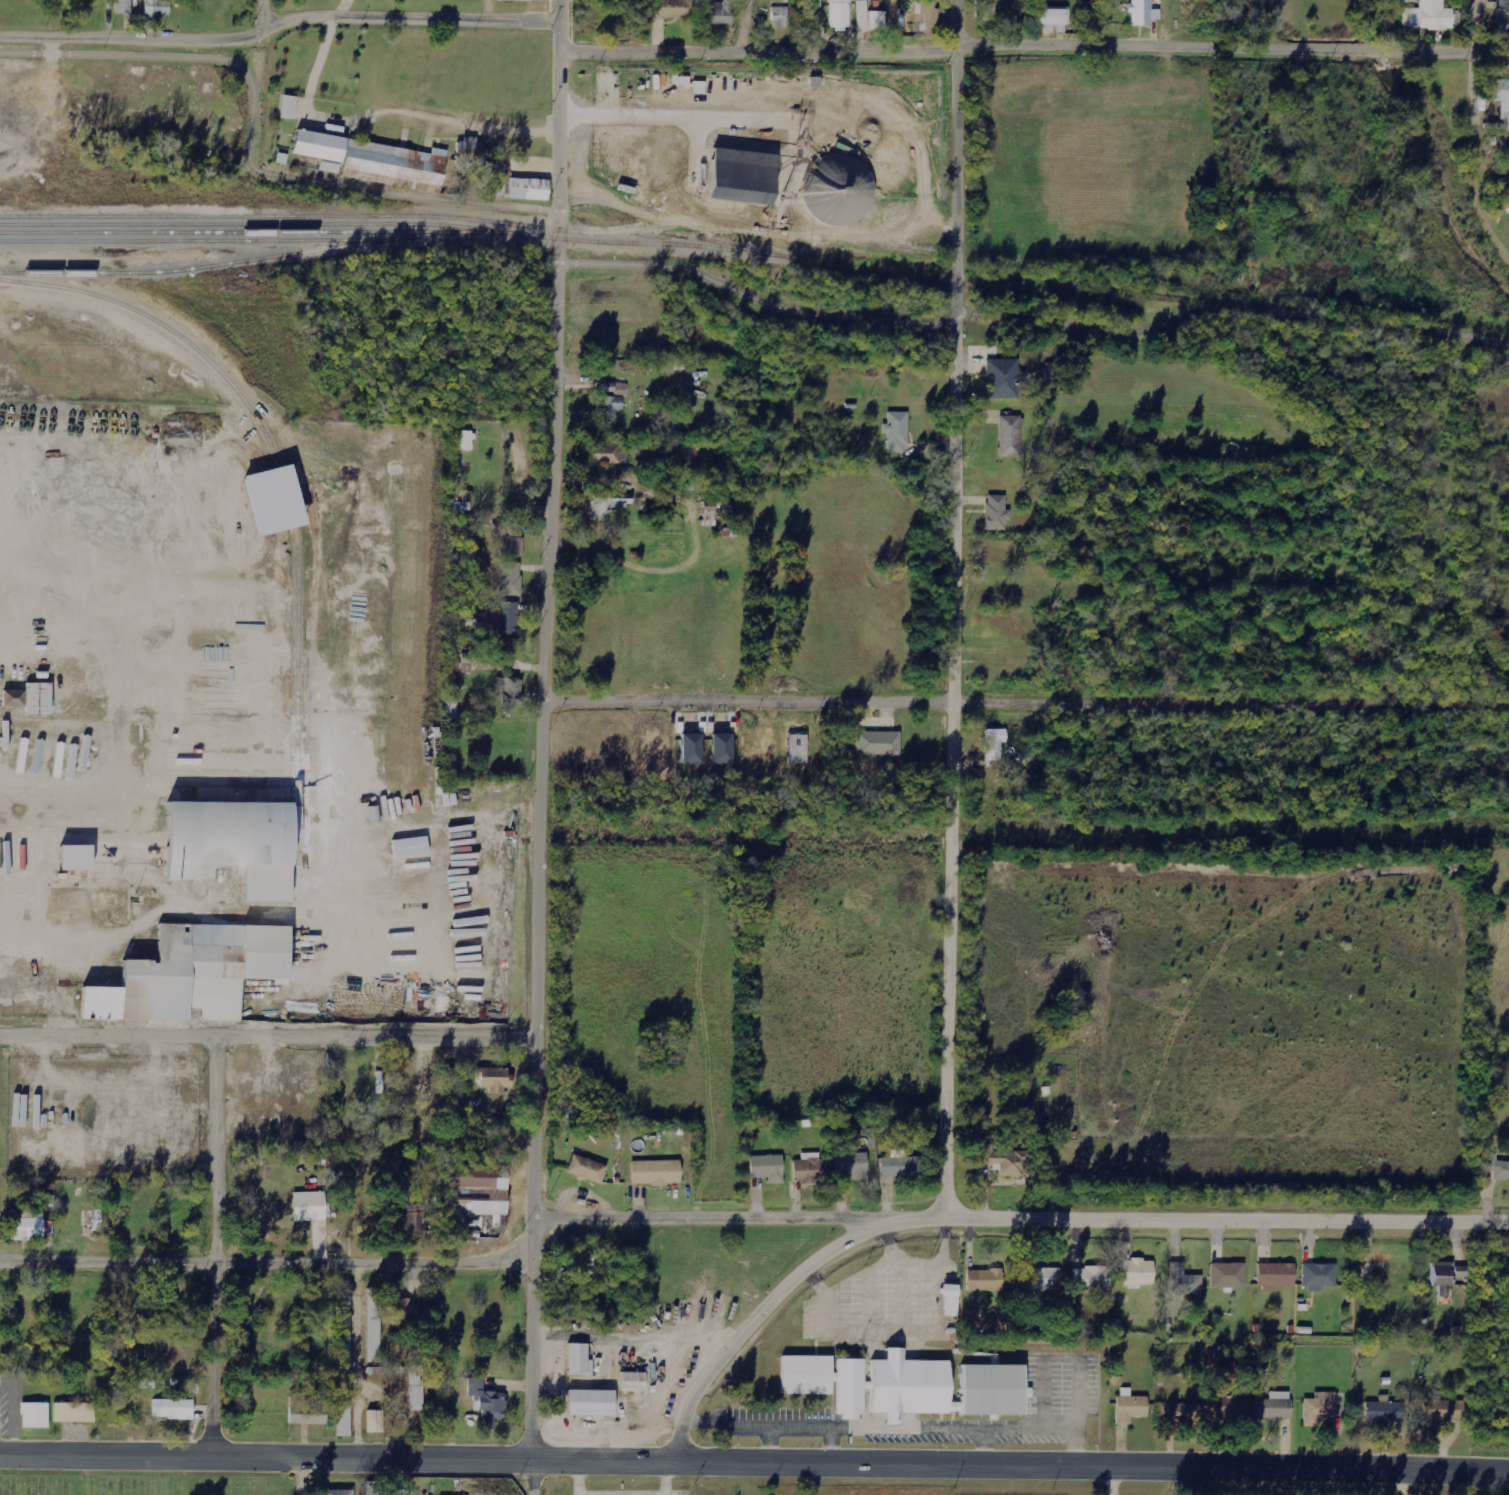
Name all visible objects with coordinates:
building: (513, 0)
building: (1410, 0)
building: (779, 1)
building: (123, 6)
building: (157, 8)
building: (670, 9)
building: (986, 10)
building: (722, 12)
building: (1143, 13)
road: (262, 14)
building: (840, 14)
building: (924, 15)
building: (862, 16)
building: (896, 16)
building: (1428, 16)
building: (780, 17)
building: (1054, 17)
building: (1503, 18)
building: (876, 21)
road: (278, 24)
road: (1473, 27)
road: (742, 28)
road: (1034, 52)
building: (611, 91)
building: (1504, 103)
building: (288, 107)
building: (319, 146)
building: (395, 166)
building: (330, 167)
building: (529, 189)
building: (839, 190)
railway: (469, 219)
railway: (254, 224)
railway: (223, 231)
railway: (475, 231)
railway: (738, 247)
railway: (198, 266)
road: (691, 271)
railway: (1051, 287)
building: (1002, 379)
building: (610, 402)
building: (897, 432)
building: (1010, 436)
building: (466, 440)
building: (609, 454)
railway: (281, 480)
building: (274, 500)
building: (608, 506)
building: (997, 513)
building: (510, 538)
building: (510, 578)
road: (955, 605)
building: (503, 616)
building: (465, 664)
building: (509, 690)
road: (1026, 691)
building: (30, 699)
building: (879, 743)
building: (995, 746)
road: (545, 747)
building: (722, 748)
building: (692, 749)
building: (798, 749)
building: (232, 844)
building: (75, 857)
building: (193, 974)
road: (271, 1032)
building: (495, 1080)
building: (1029, 1080)
building: (1003, 1161)
building: (852, 1165)
building: (900, 1167)
building: (1497, 1167)
building: (768, 1168)
building: (587, 1169)
building: (810, 1169)
building: (656, 1172)
building: (476, 1192)
building: (309, 1206)
road: (1024, 1211)
building: (415, 1218)
building: (28, 1224)
road: (222, 1246)
road: (265, 1257)
building: (584, 1264)
building: (1138, 1273)
building: (1447, 1273)
building: (1228, 1275)
building: (1276, 1276)
building: (1319, 1276)
building: (1041, 1278)
building: (1092, 1278)
building: (985, 1280)
building: (1183, 1282)
building: (951, 1300)
building: (405, 1307)
road: (758, 1313)
building: (374, 1325)
building: (579, 1360)
building: (344, 1362)
building: (633, 1382)
building: (906, 1386)
building: (416, 1387)
building: (487, 1403)
building: (591, 1403)
building: (1130, 1406)
building: (1274, 1406)
building: (173, 1408)
building: (1232, 1408)
building: (1319, 1408)
building: (1444, 1410)
building: (1385, 1411)
building: (74, 1412)
building: (308, 1413)
building: (1185, 1413)
building: (35, 1415)
building: (375, 1422)
road: (267, 1458)
road: (1022, 1467)
road: (296, 1477)
park: (142, 1485)
building: (376, 1488)
building: (339, 1492)

